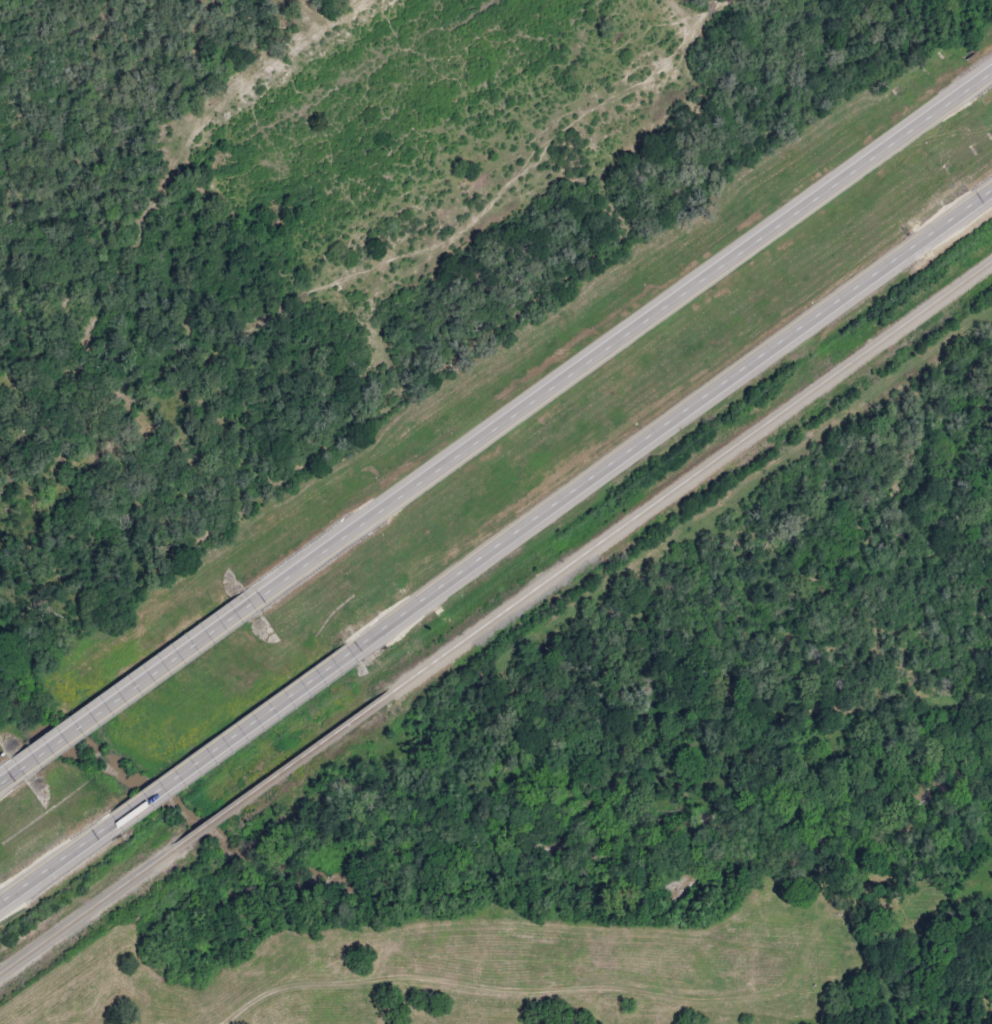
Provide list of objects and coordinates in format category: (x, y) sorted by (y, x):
road: (627, 333)
road: (677, 421)
railway: (688, 478)
road: (144, 677)
road: (240, 729)
road: (12, 771)
railway: (277, 774)
road: (59, 858)
river: (480, 870)
railway: (84, 912)

